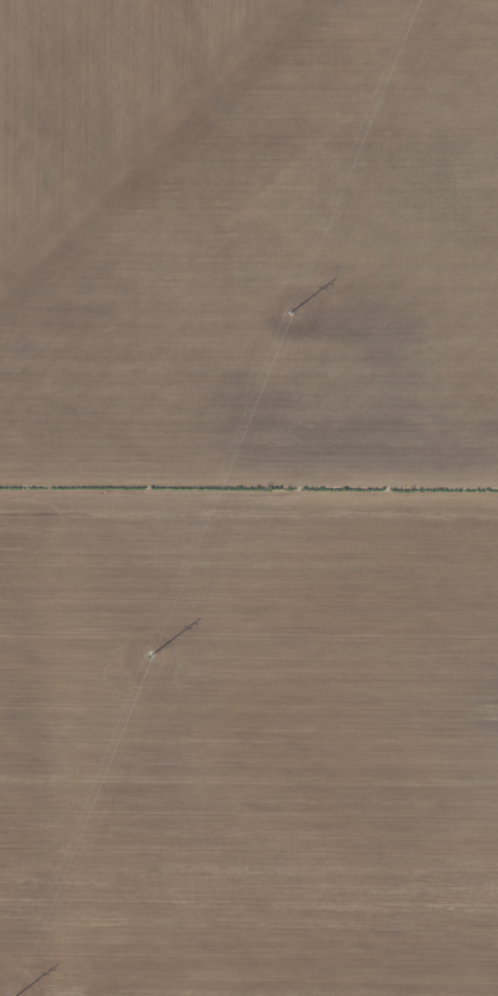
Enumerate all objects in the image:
power tower: (293, 308)
power tower: (152, 651)
power tower: (14, 995)

